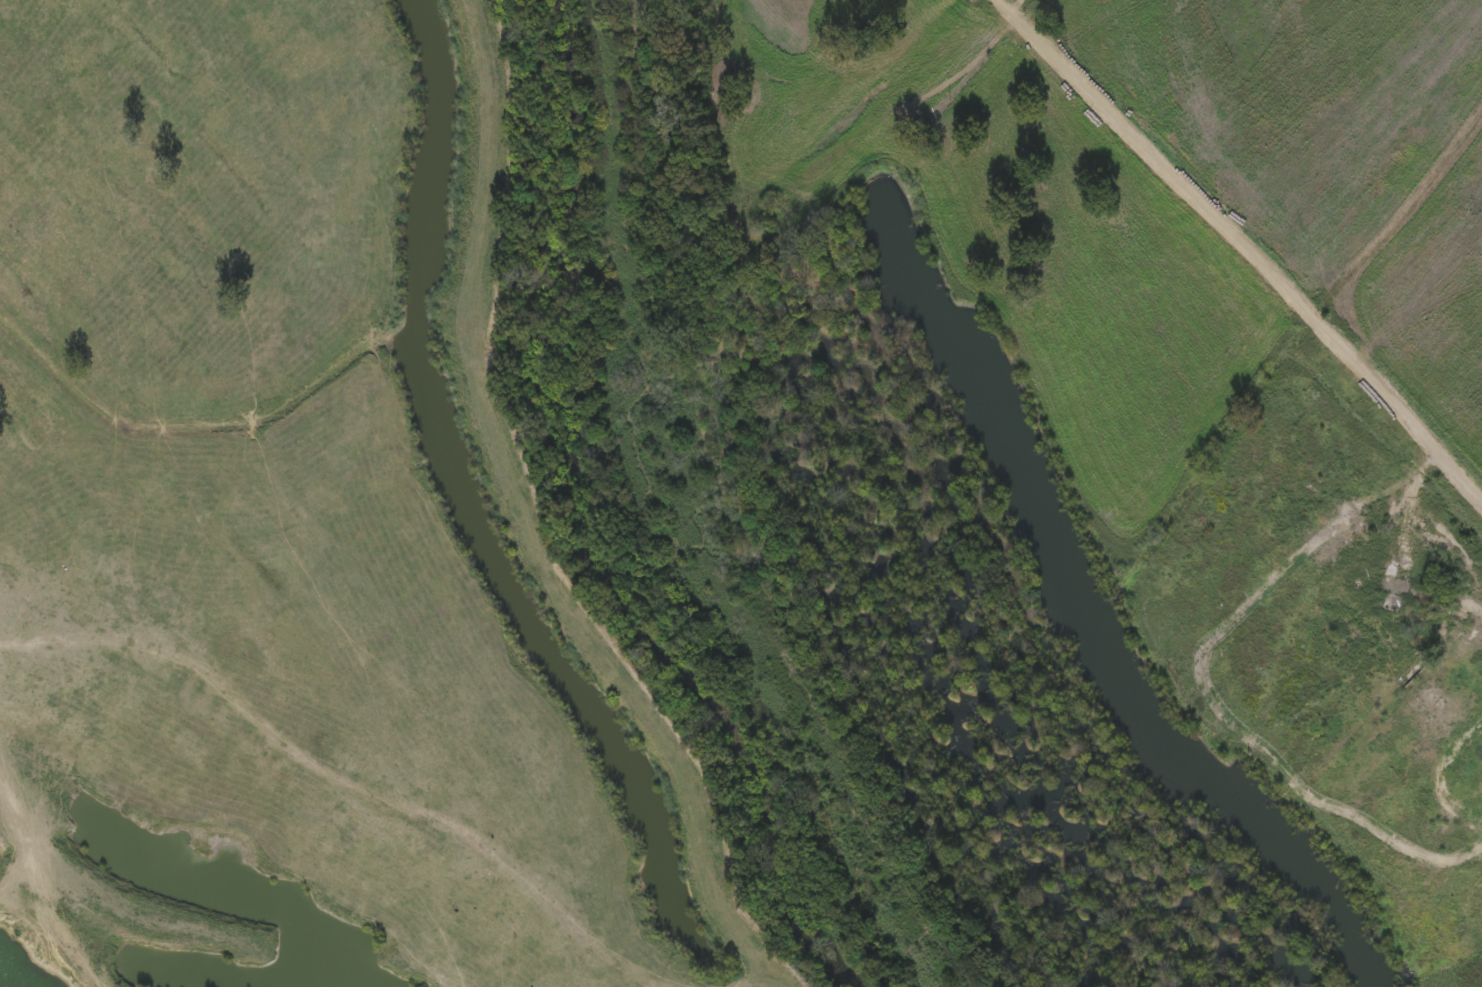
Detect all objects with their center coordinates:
road: (1240, 246)

